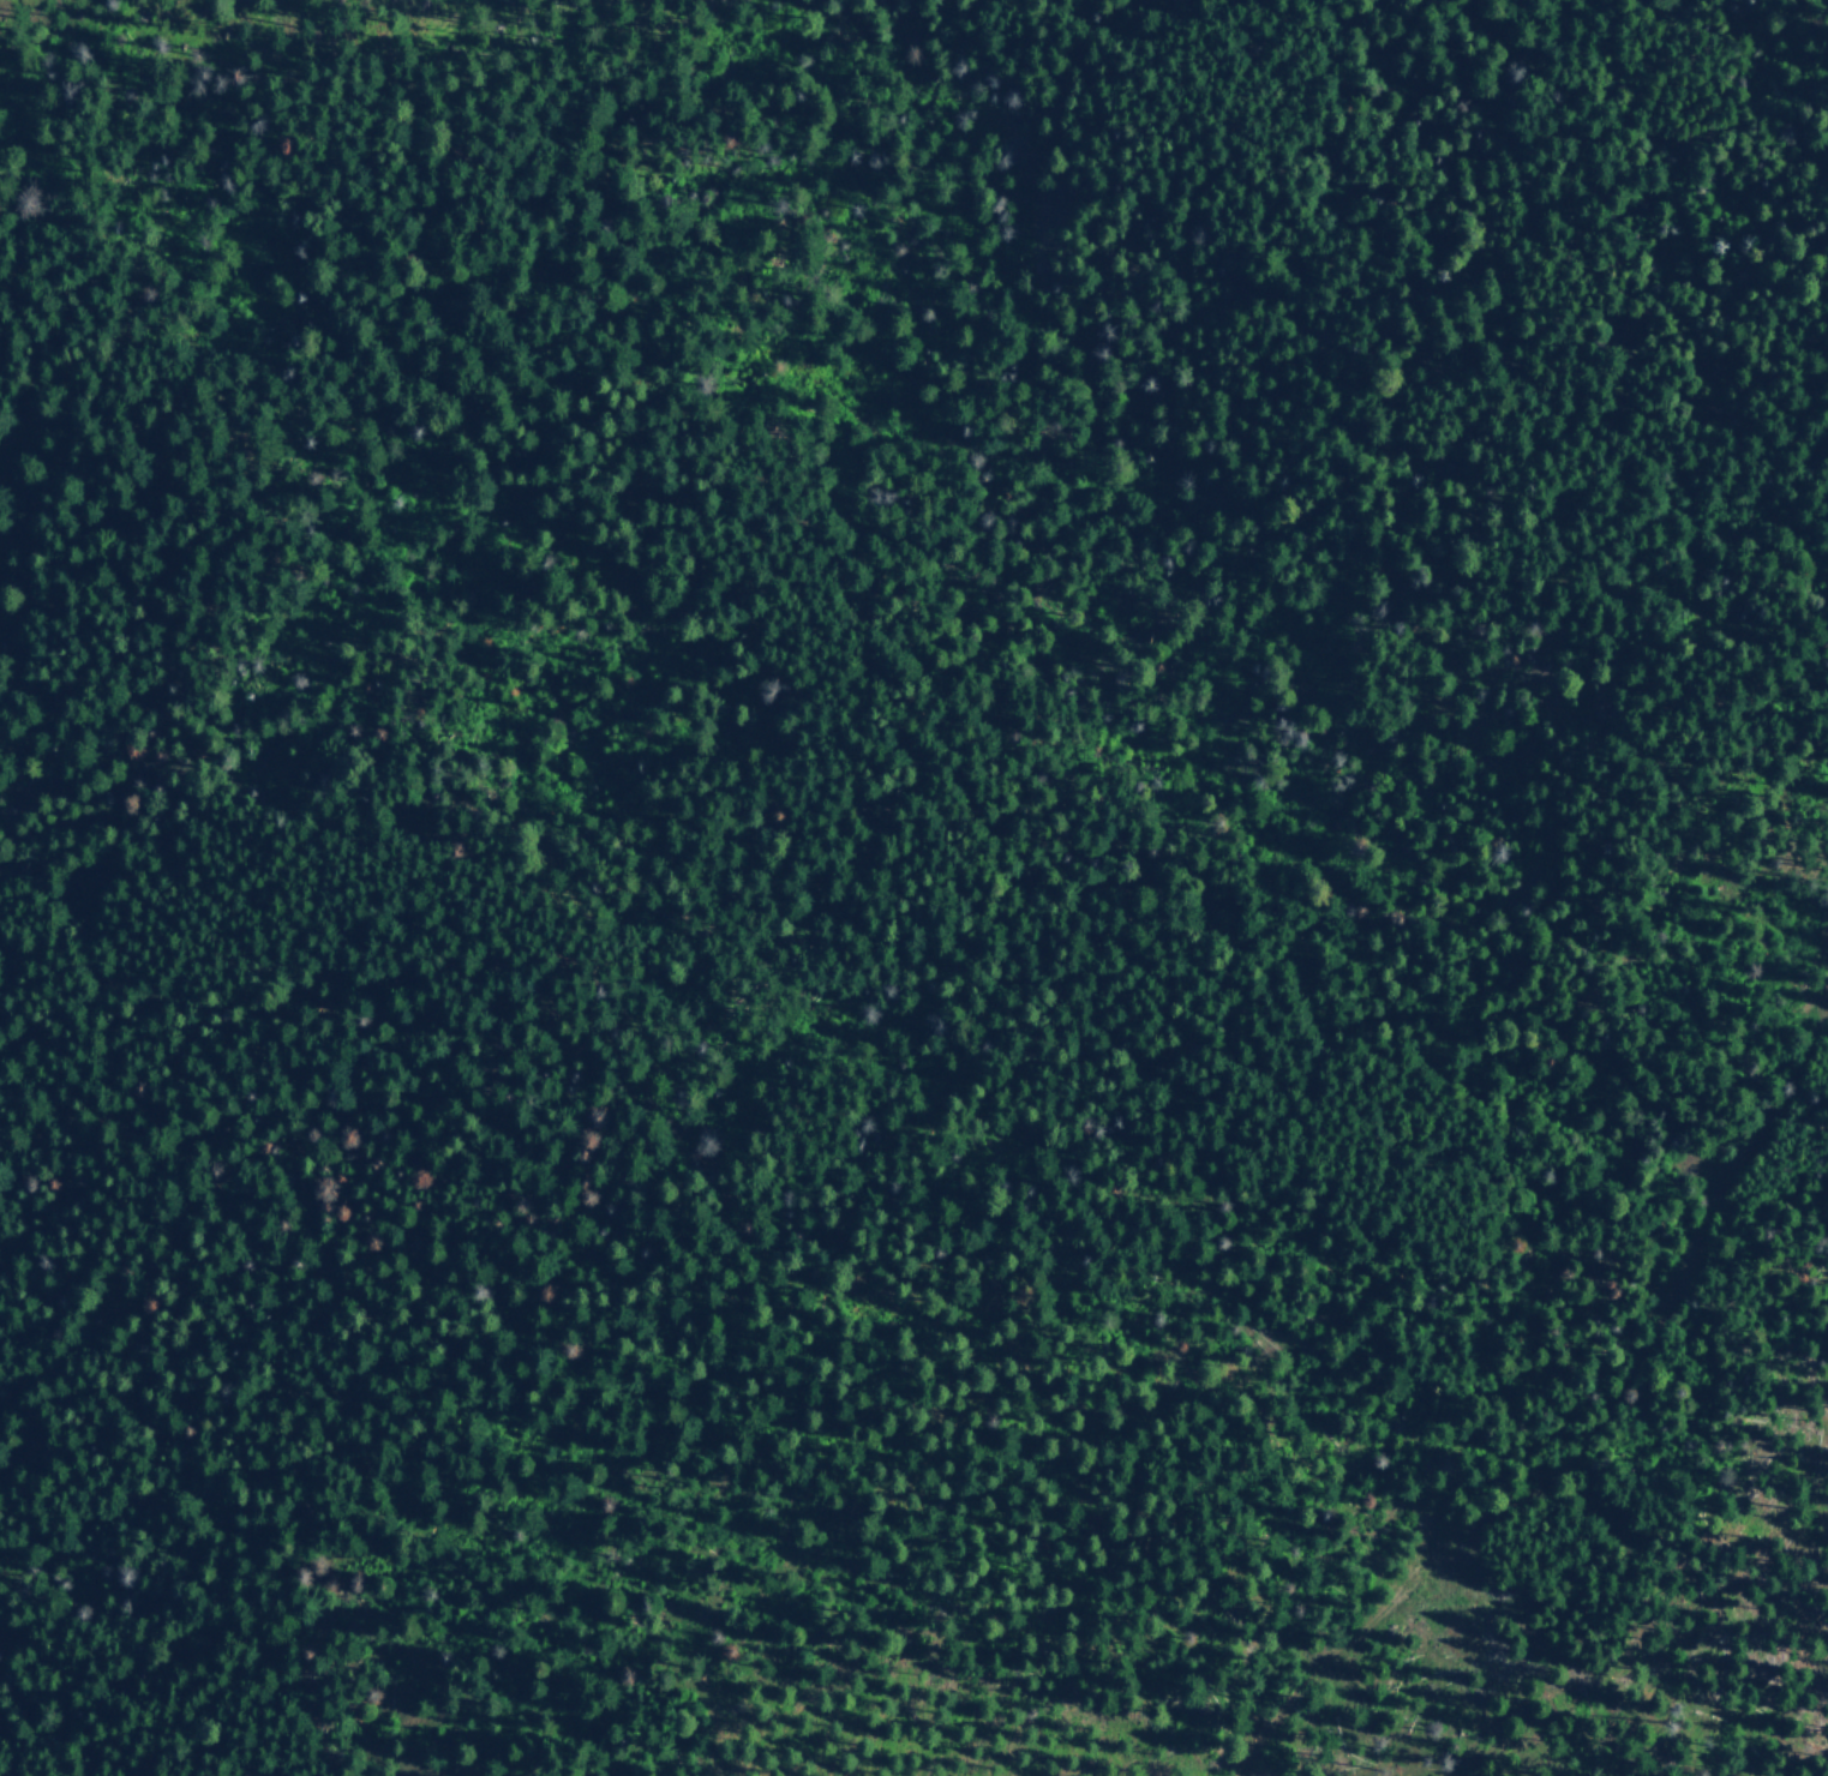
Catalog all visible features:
road: (1583, 1424)

